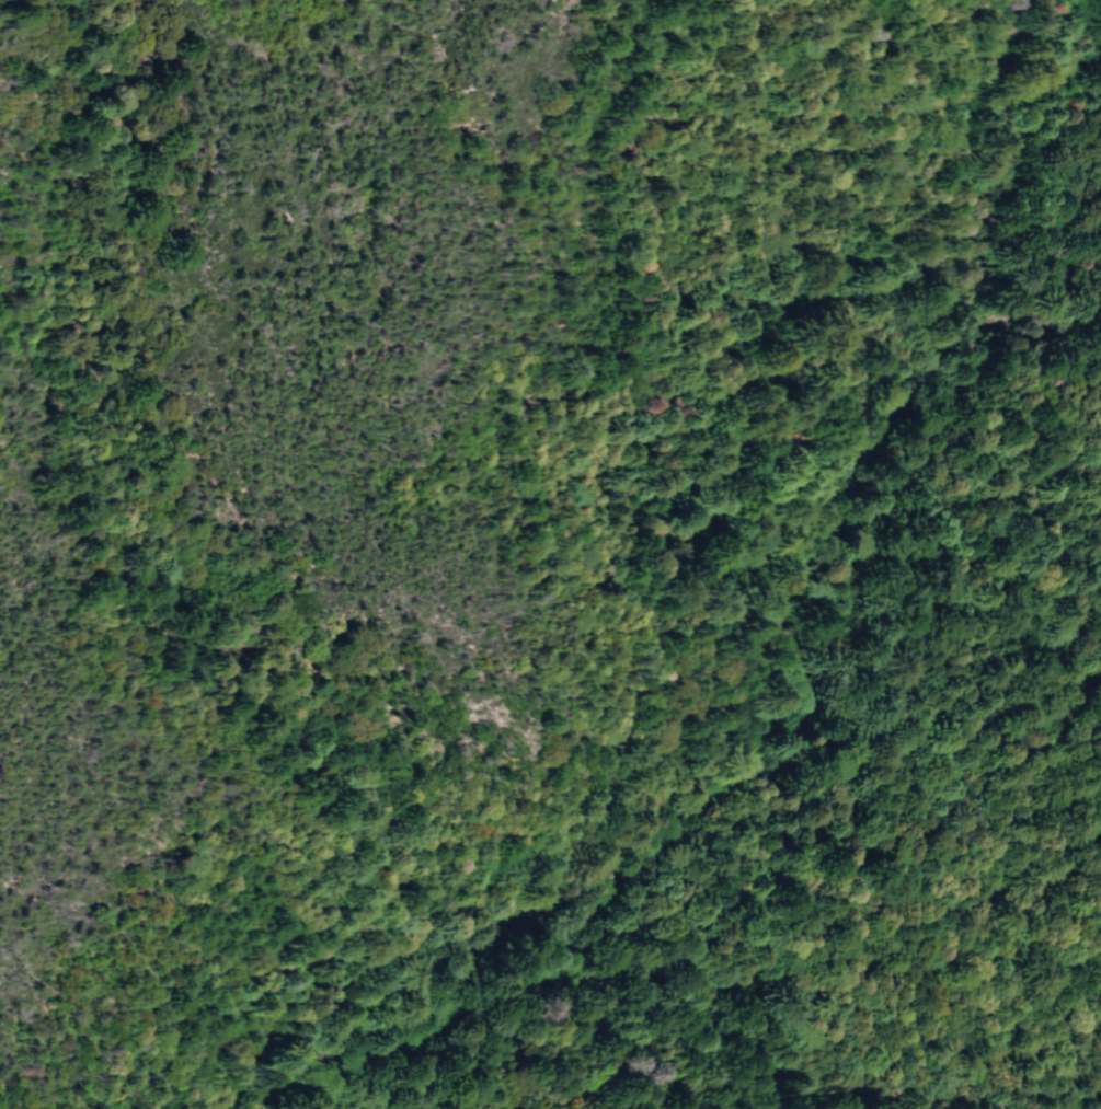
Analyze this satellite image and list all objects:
road: (698, 561)

